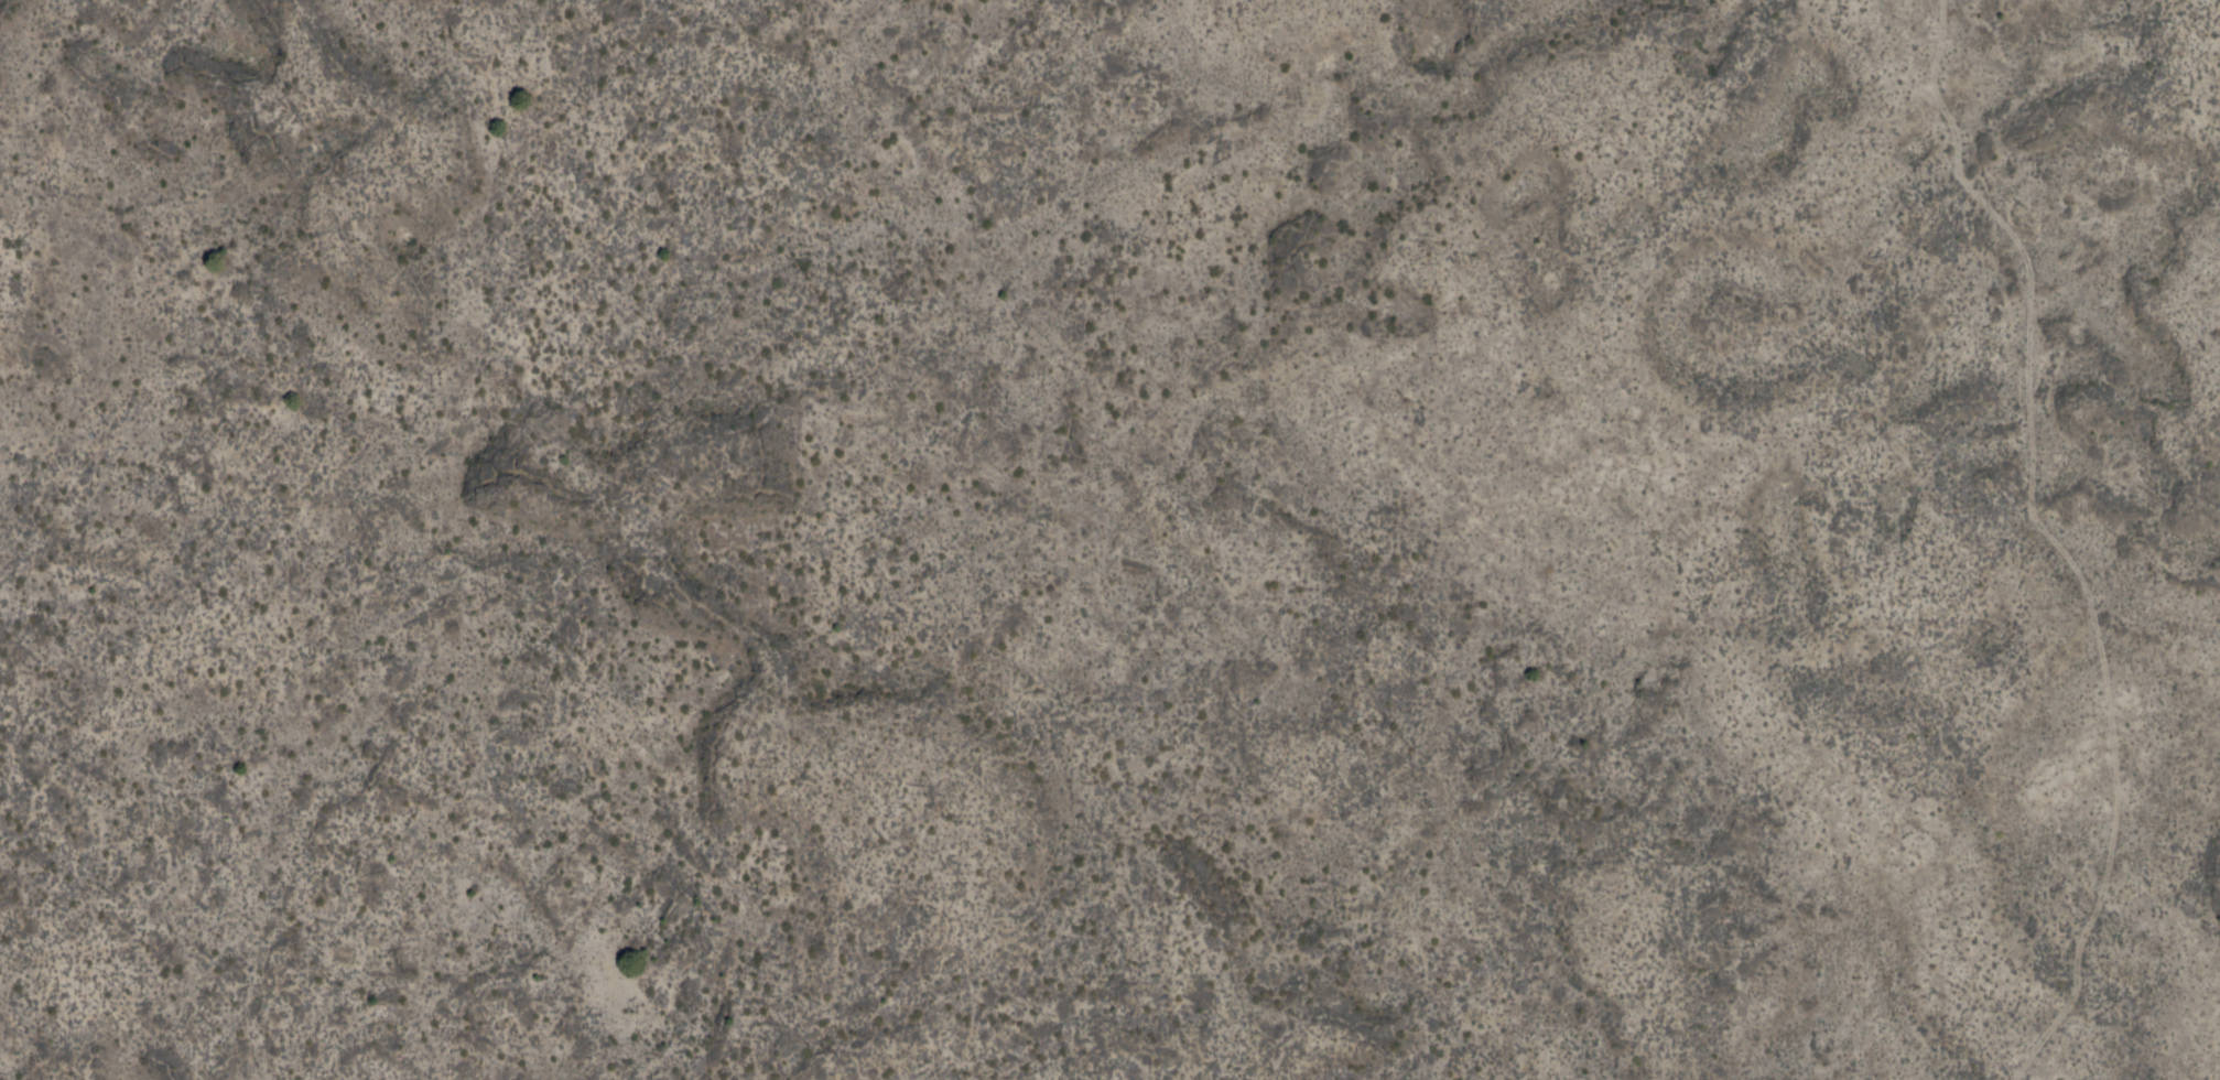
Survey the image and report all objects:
road: (2053, 540)

